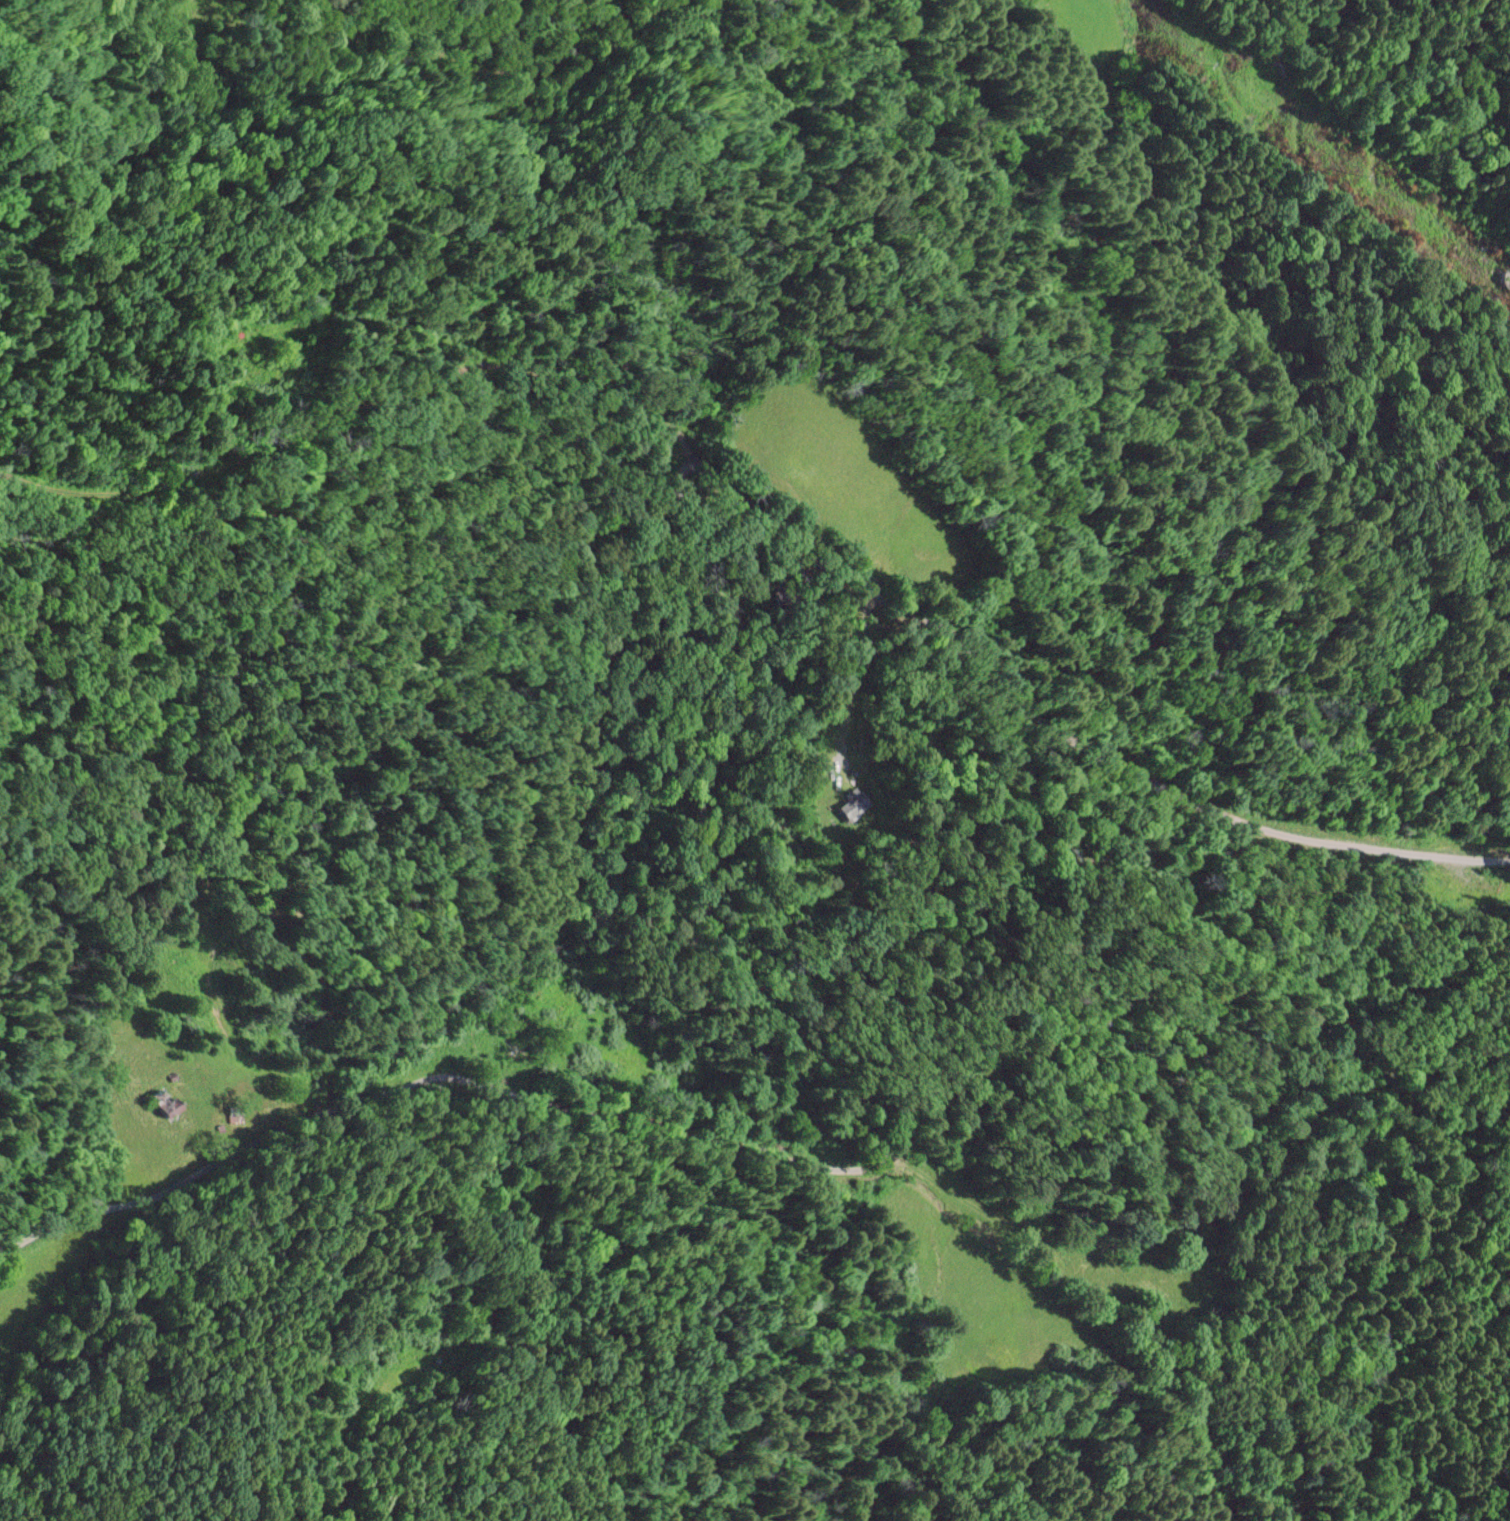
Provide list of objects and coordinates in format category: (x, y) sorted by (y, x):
road: (388, 395)
road: (30, 461)
building: (853, 803)
road: (705, 848)
road: (1499, 853)
building: (164, 1101)

